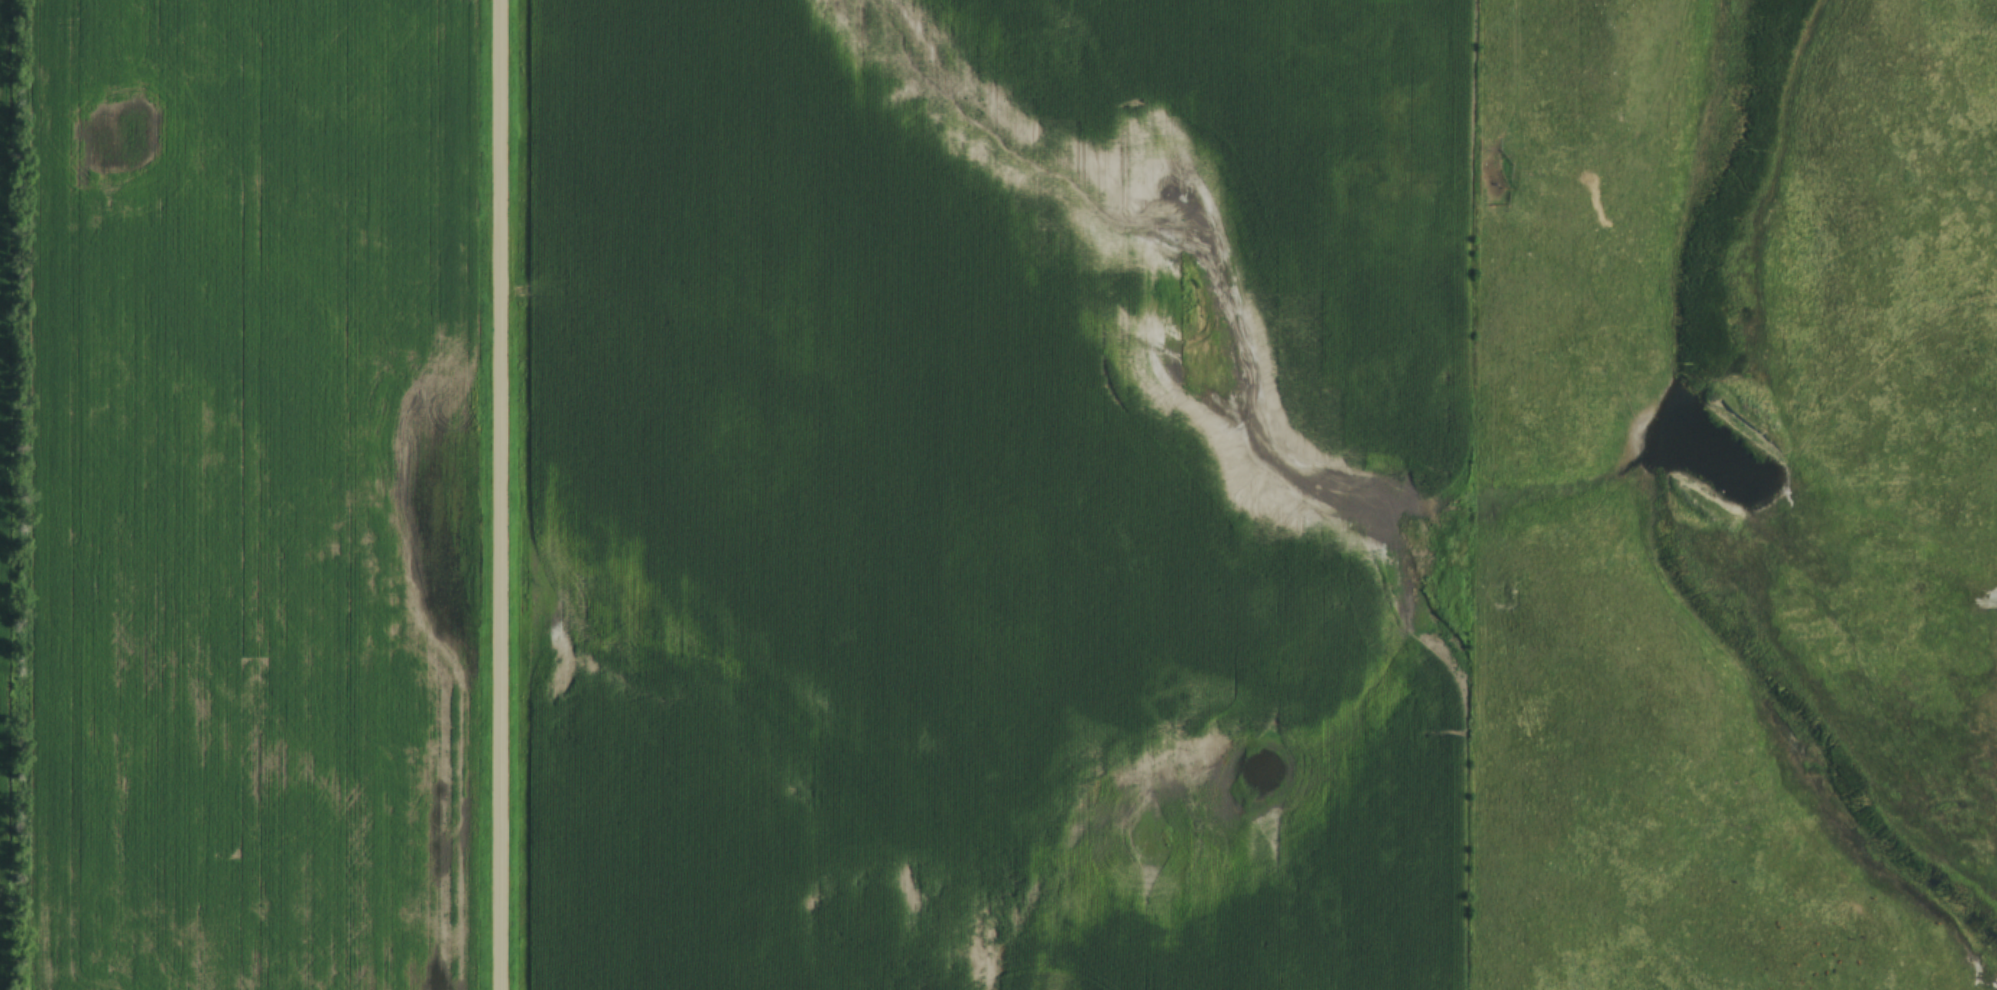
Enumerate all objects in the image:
road: (501, 495)

